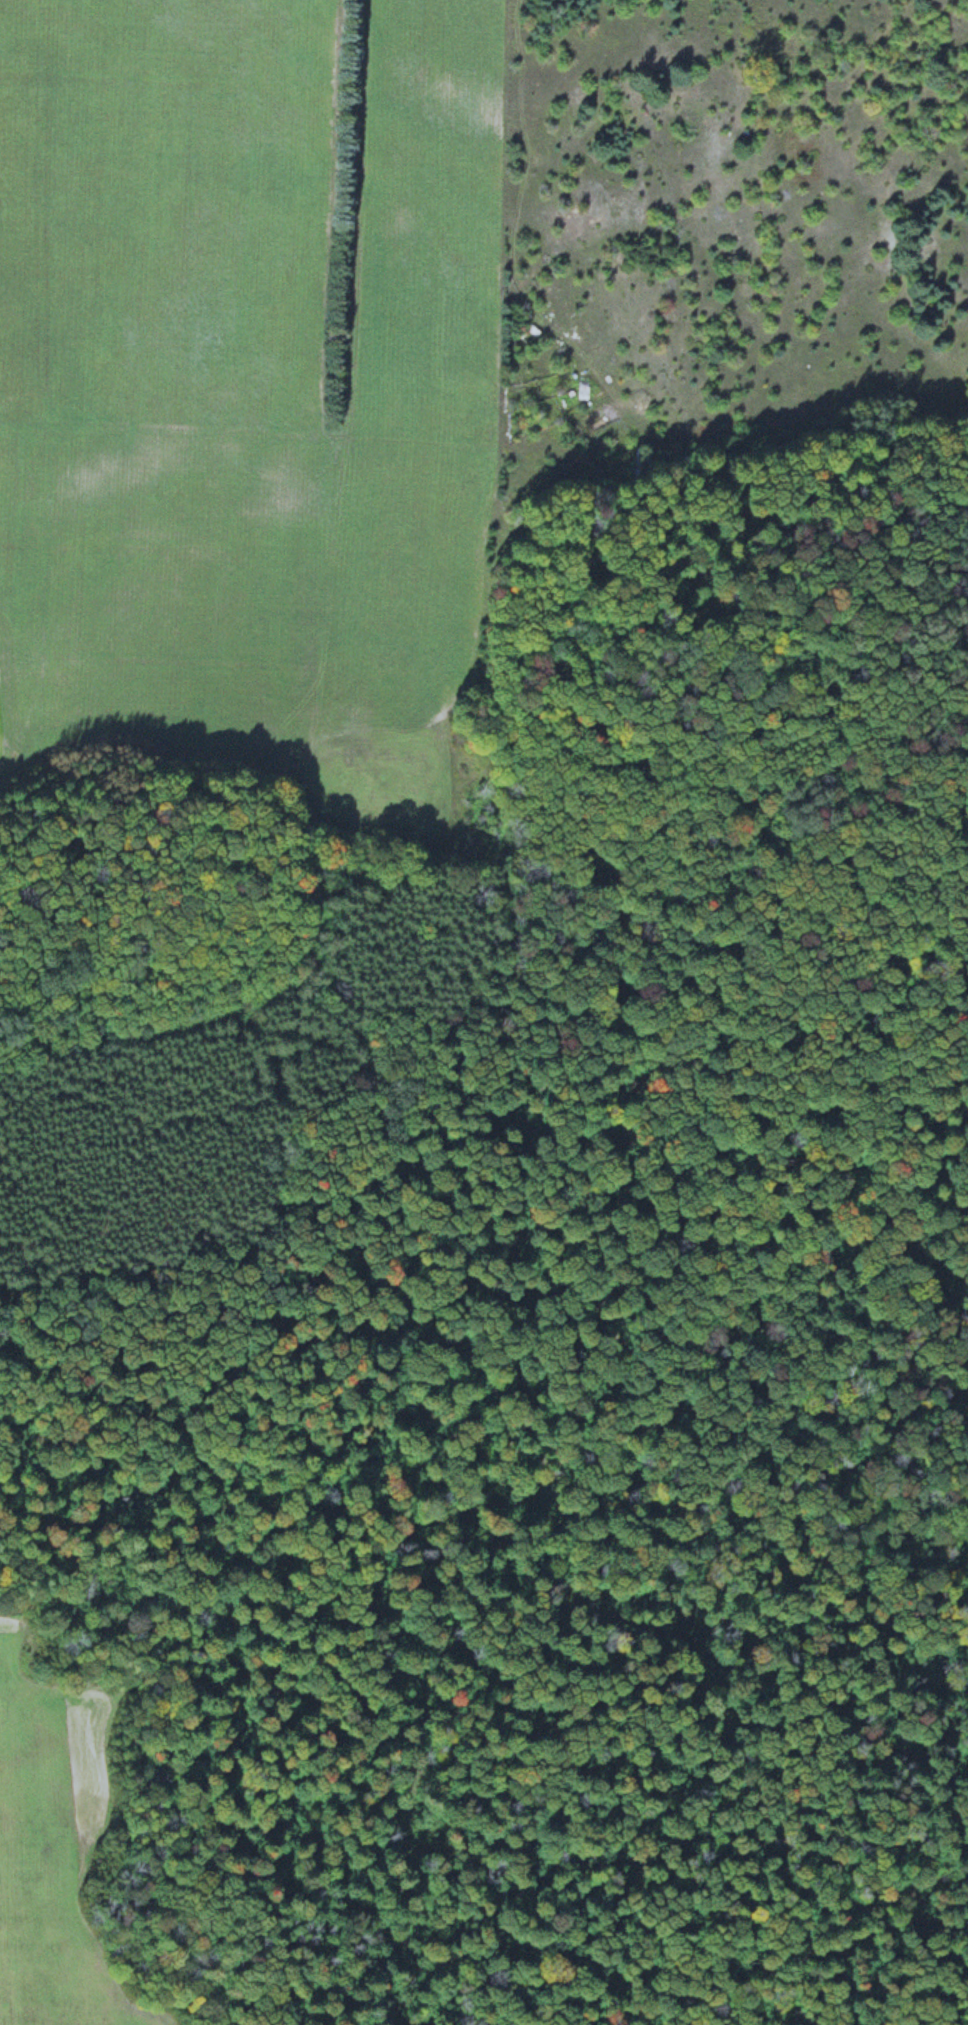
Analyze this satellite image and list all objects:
road: (557, 1480)

